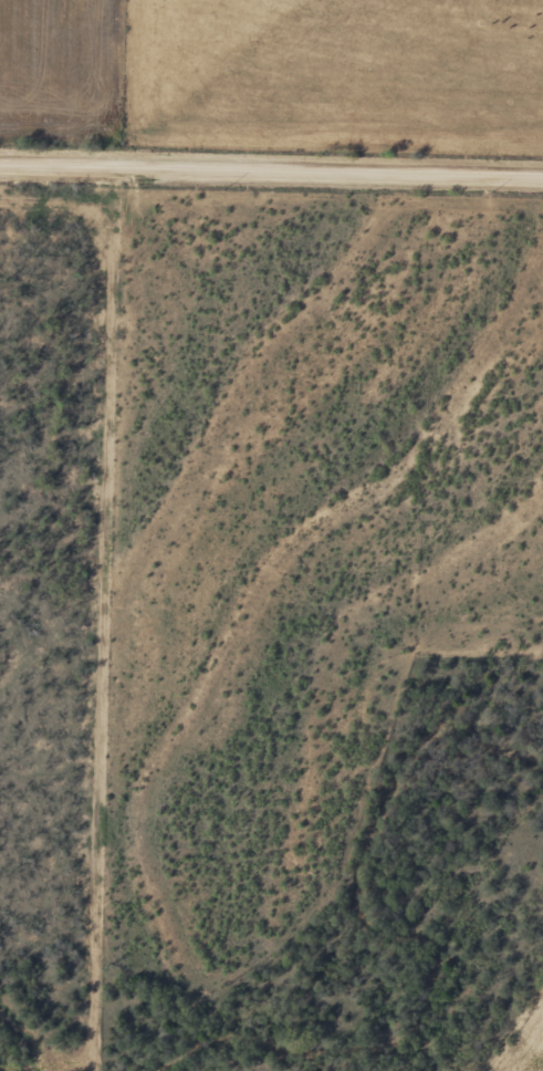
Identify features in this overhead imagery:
road: (271, 166)

